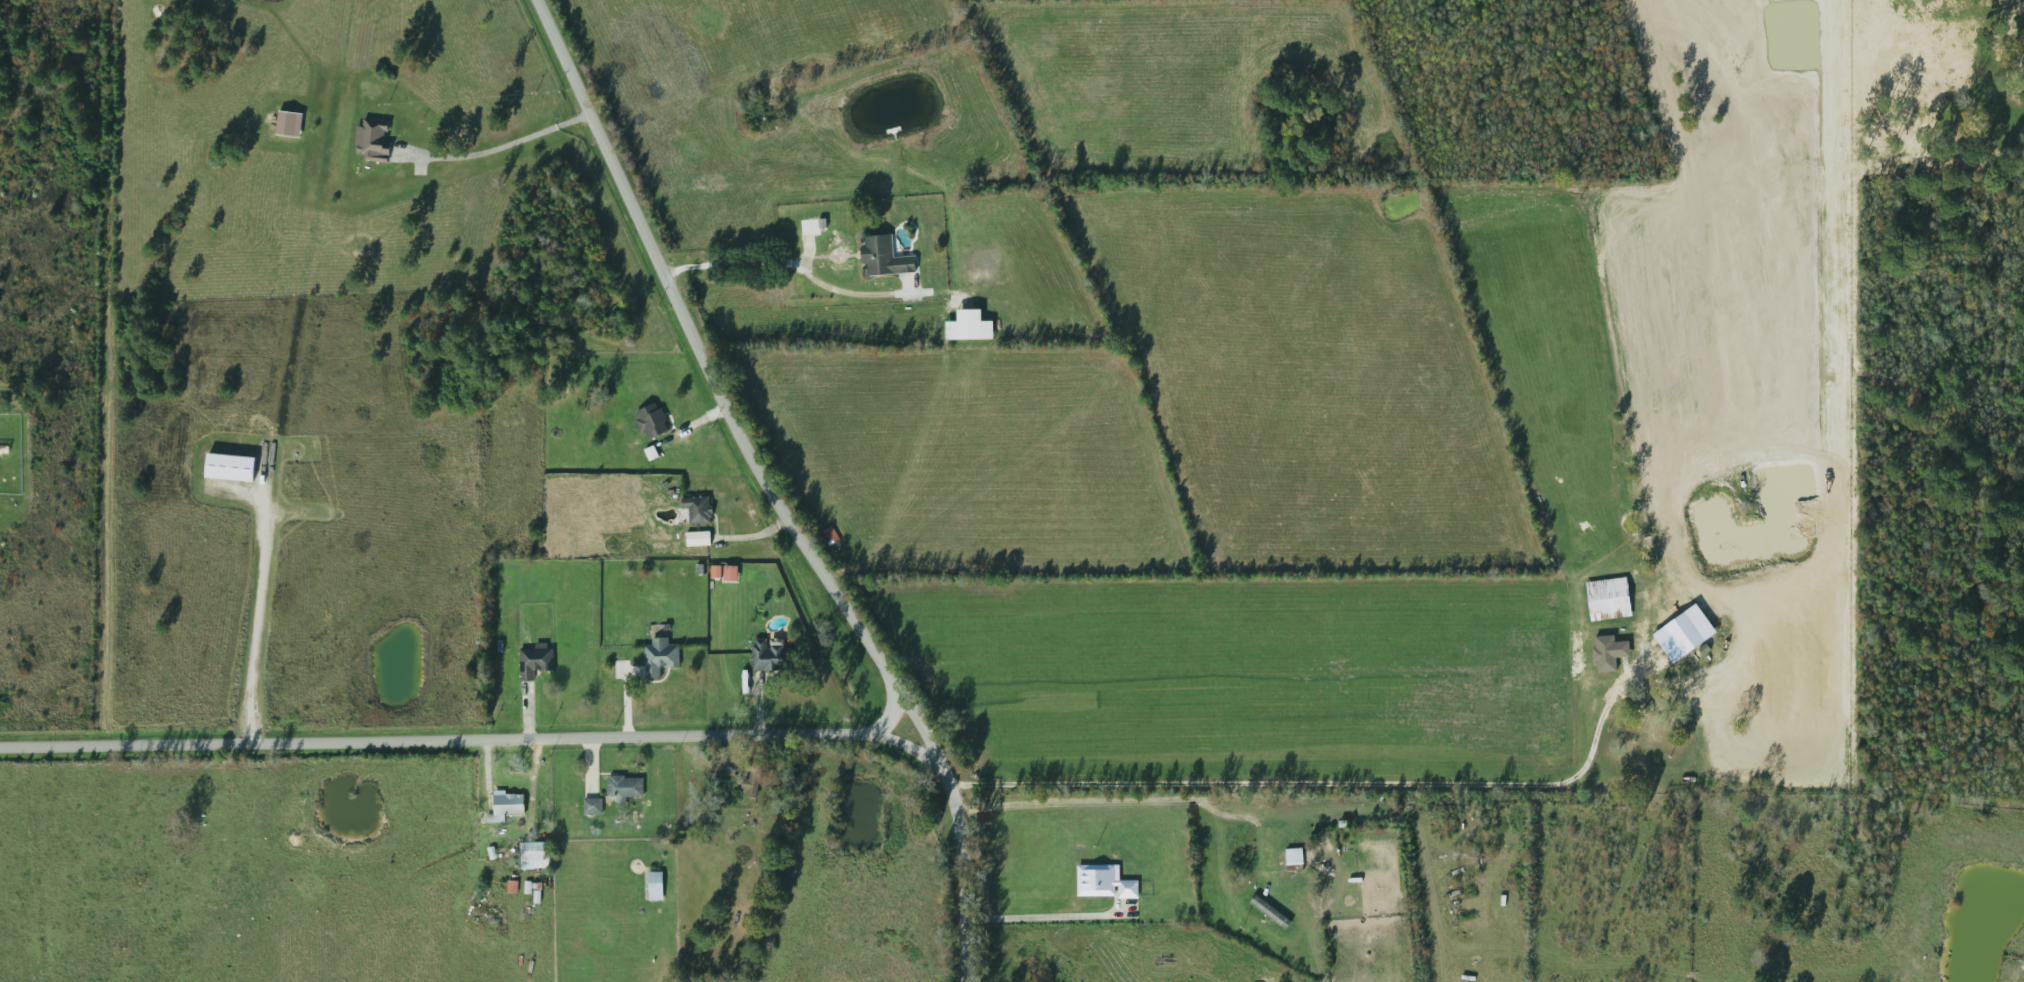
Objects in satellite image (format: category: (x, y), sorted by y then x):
building: (372, 138)
road: (499, 146)
building: (811, 224)
building: (883, 256)
road: (788, 261)
building: (969, 325)
building: (651, 420)
building: (229, 466)
road: (776, 485)
building: (697, 508)
building: (1608, 598)
road: (268, 620)
building: (660, 655)
building: (770, 655)
building: (534, 660)
road: (459, 733)
building: (754, 774)
road: (1316, 784)
building: (623, 788)
building: (506, 804)
building: (591, 805)
road: (1112, 805)
building: (533, 850)
building: (1293, 856)
building: (1103, 882)
building: (655, 884)
road: (1046, 923)

